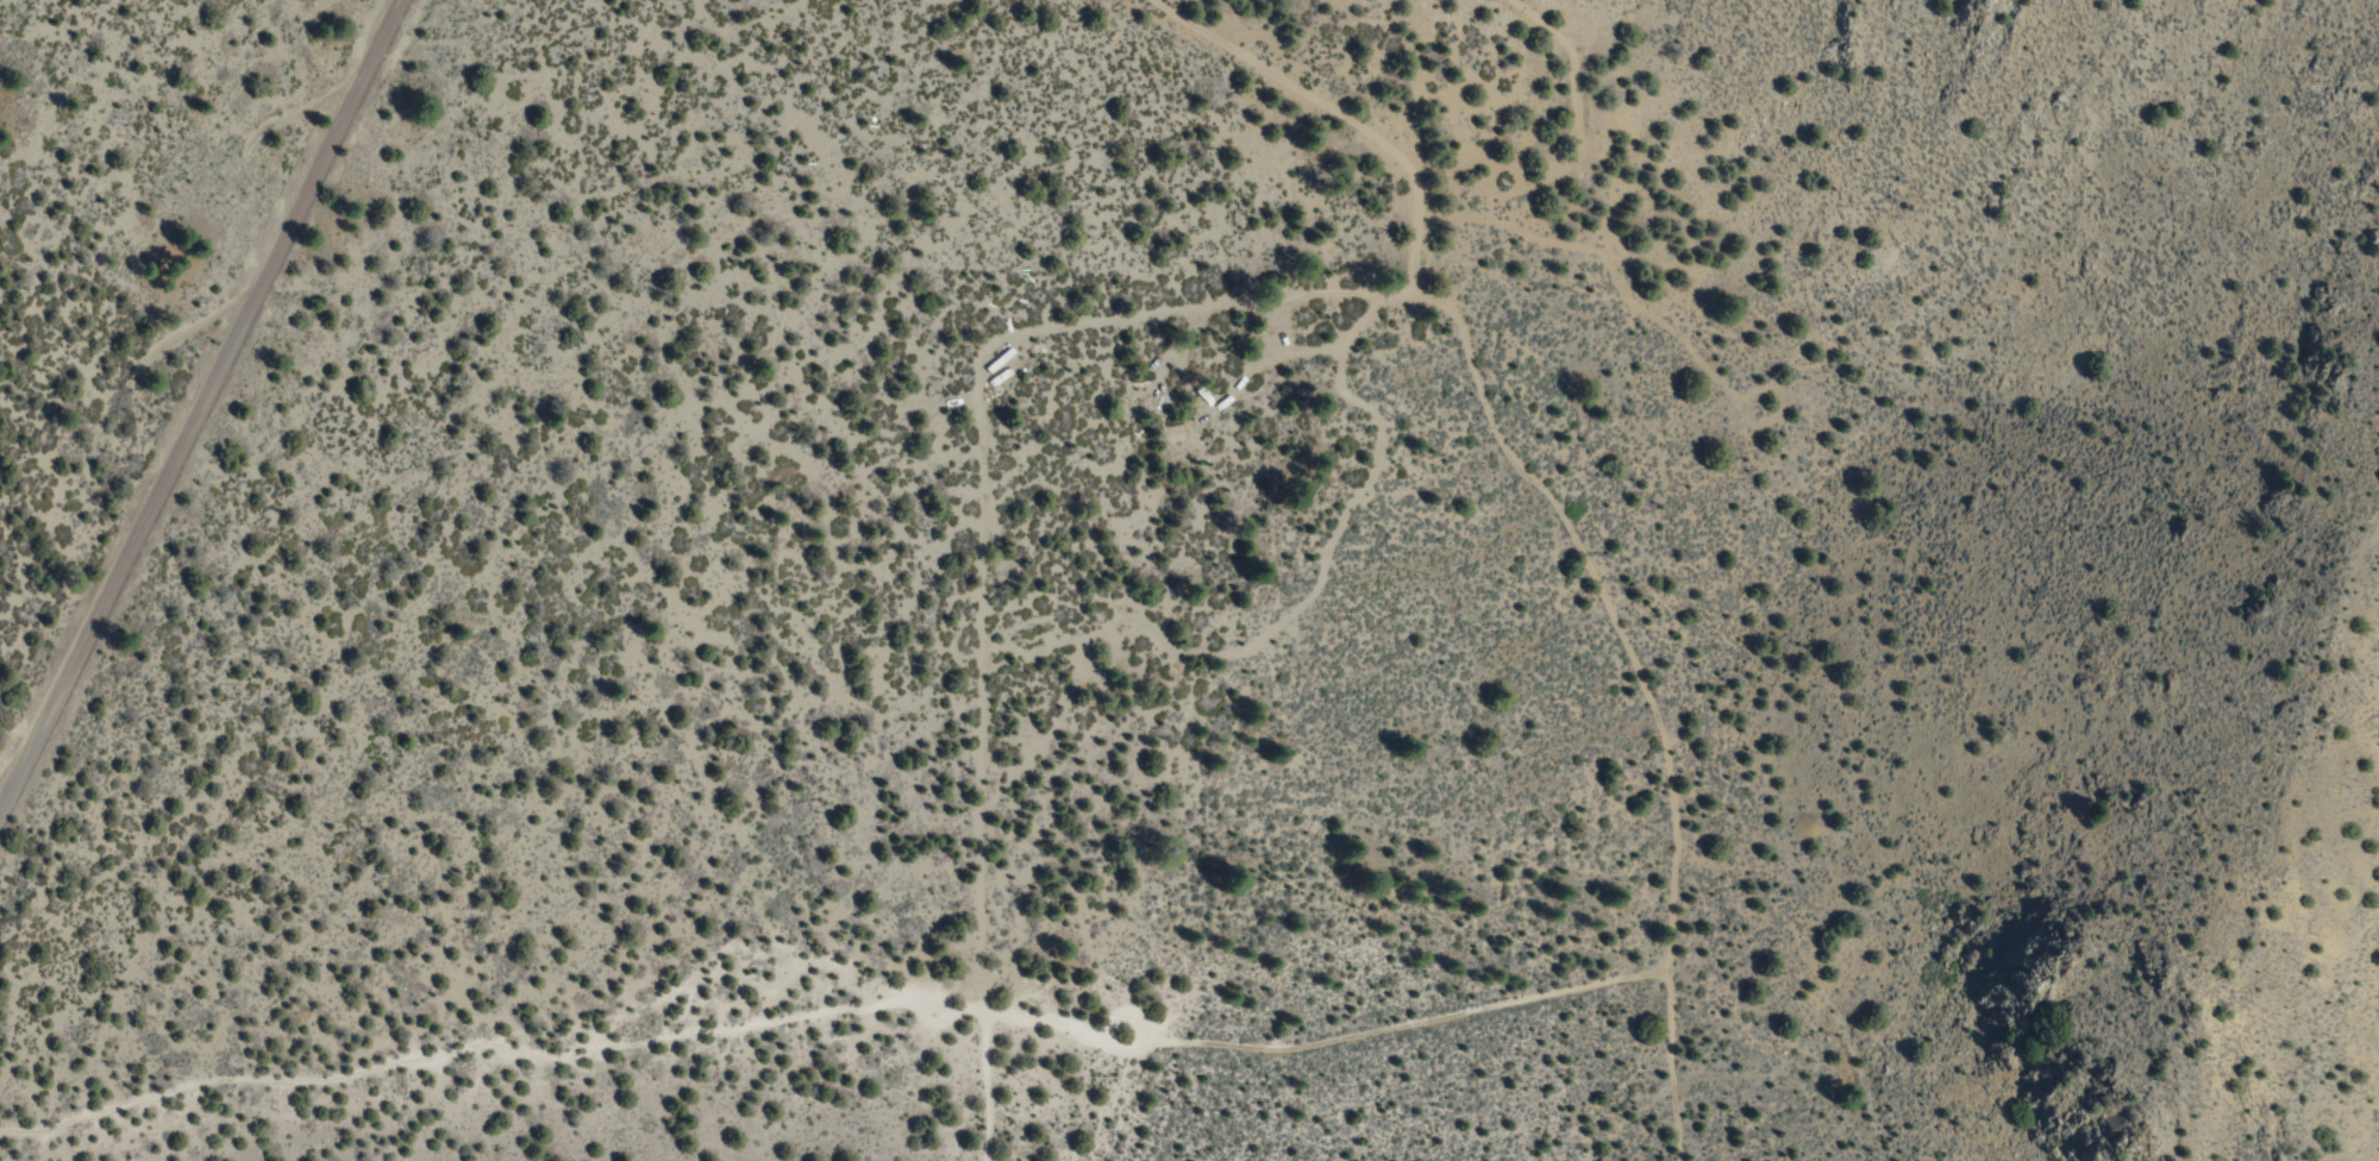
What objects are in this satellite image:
road: (1338, 108)
road: (193, 395)
road: (976, 515)
road: (1645, 702)
road: (829, 1005)

